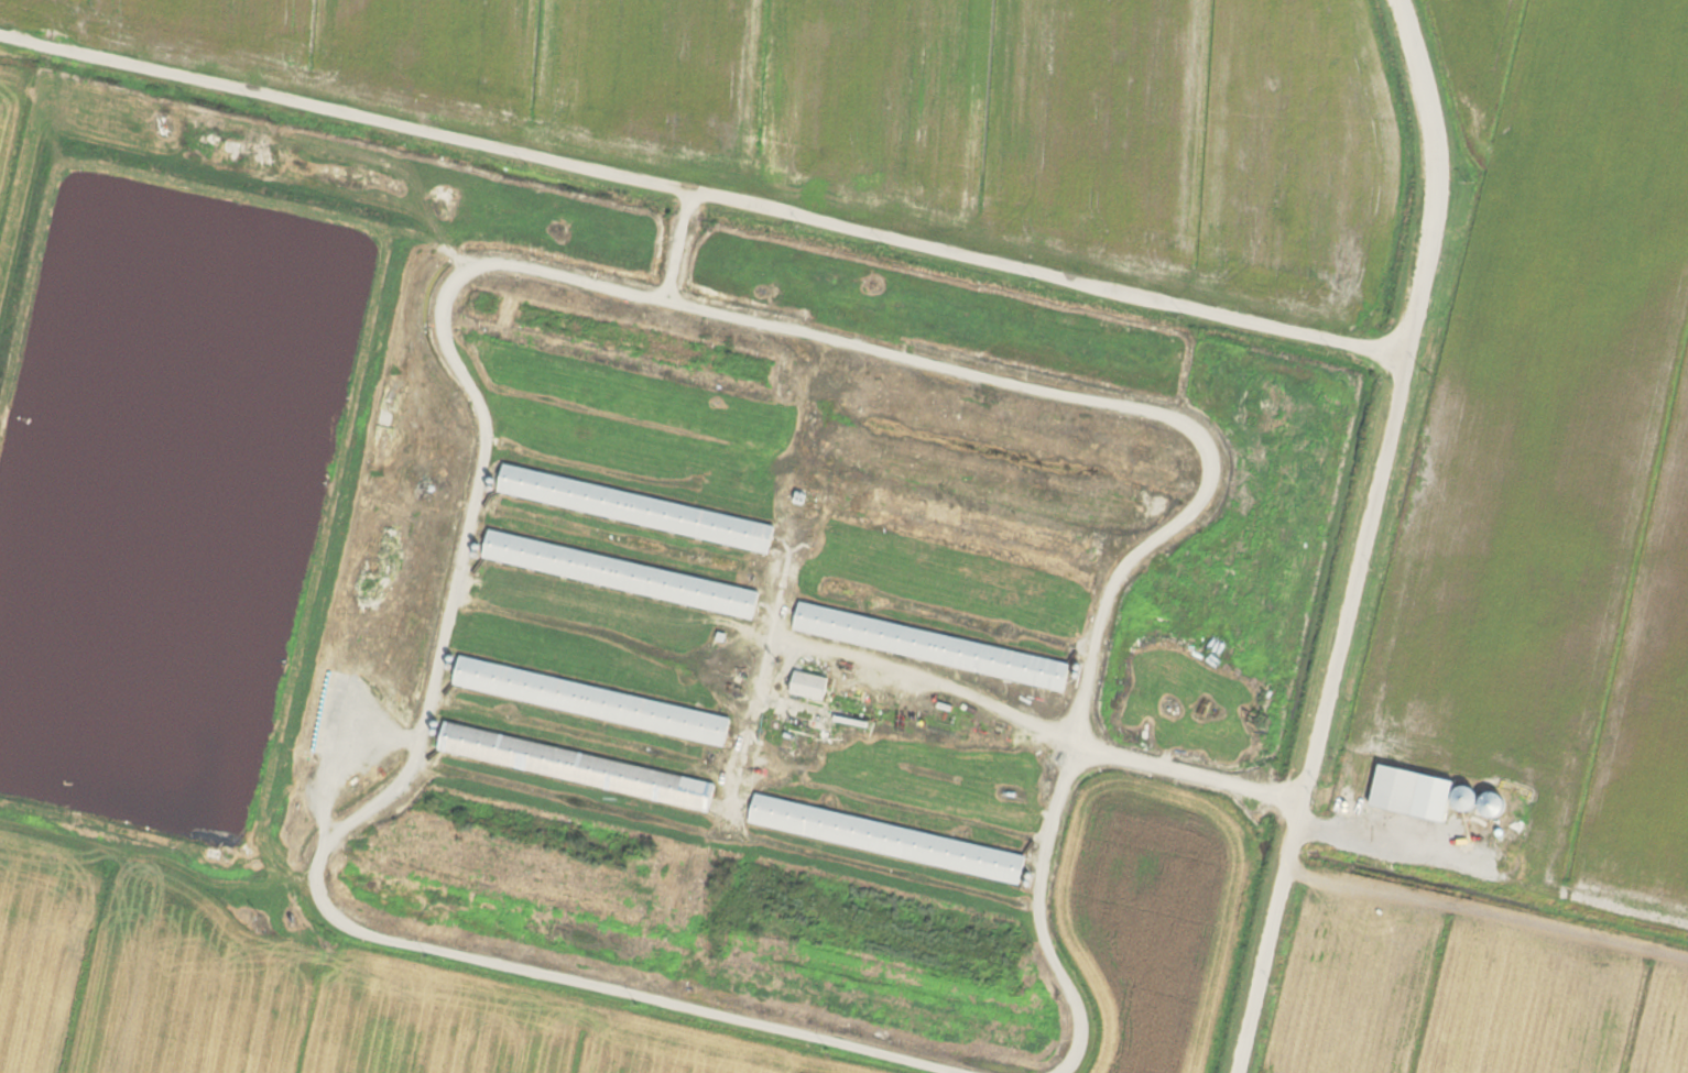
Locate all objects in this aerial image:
road: (699, 196)
building: (640, 508)
road: (1358, 536)
building: (624, 574)
building: (935, 646)
building: (812, 685)
building: (596, 701)
building: (797, 711)
road: (1052, 732)
building: (580, 766)
building: (1398, 789)
building: (1468, 797)
building: (891, 839)
road: (1491, 875)

